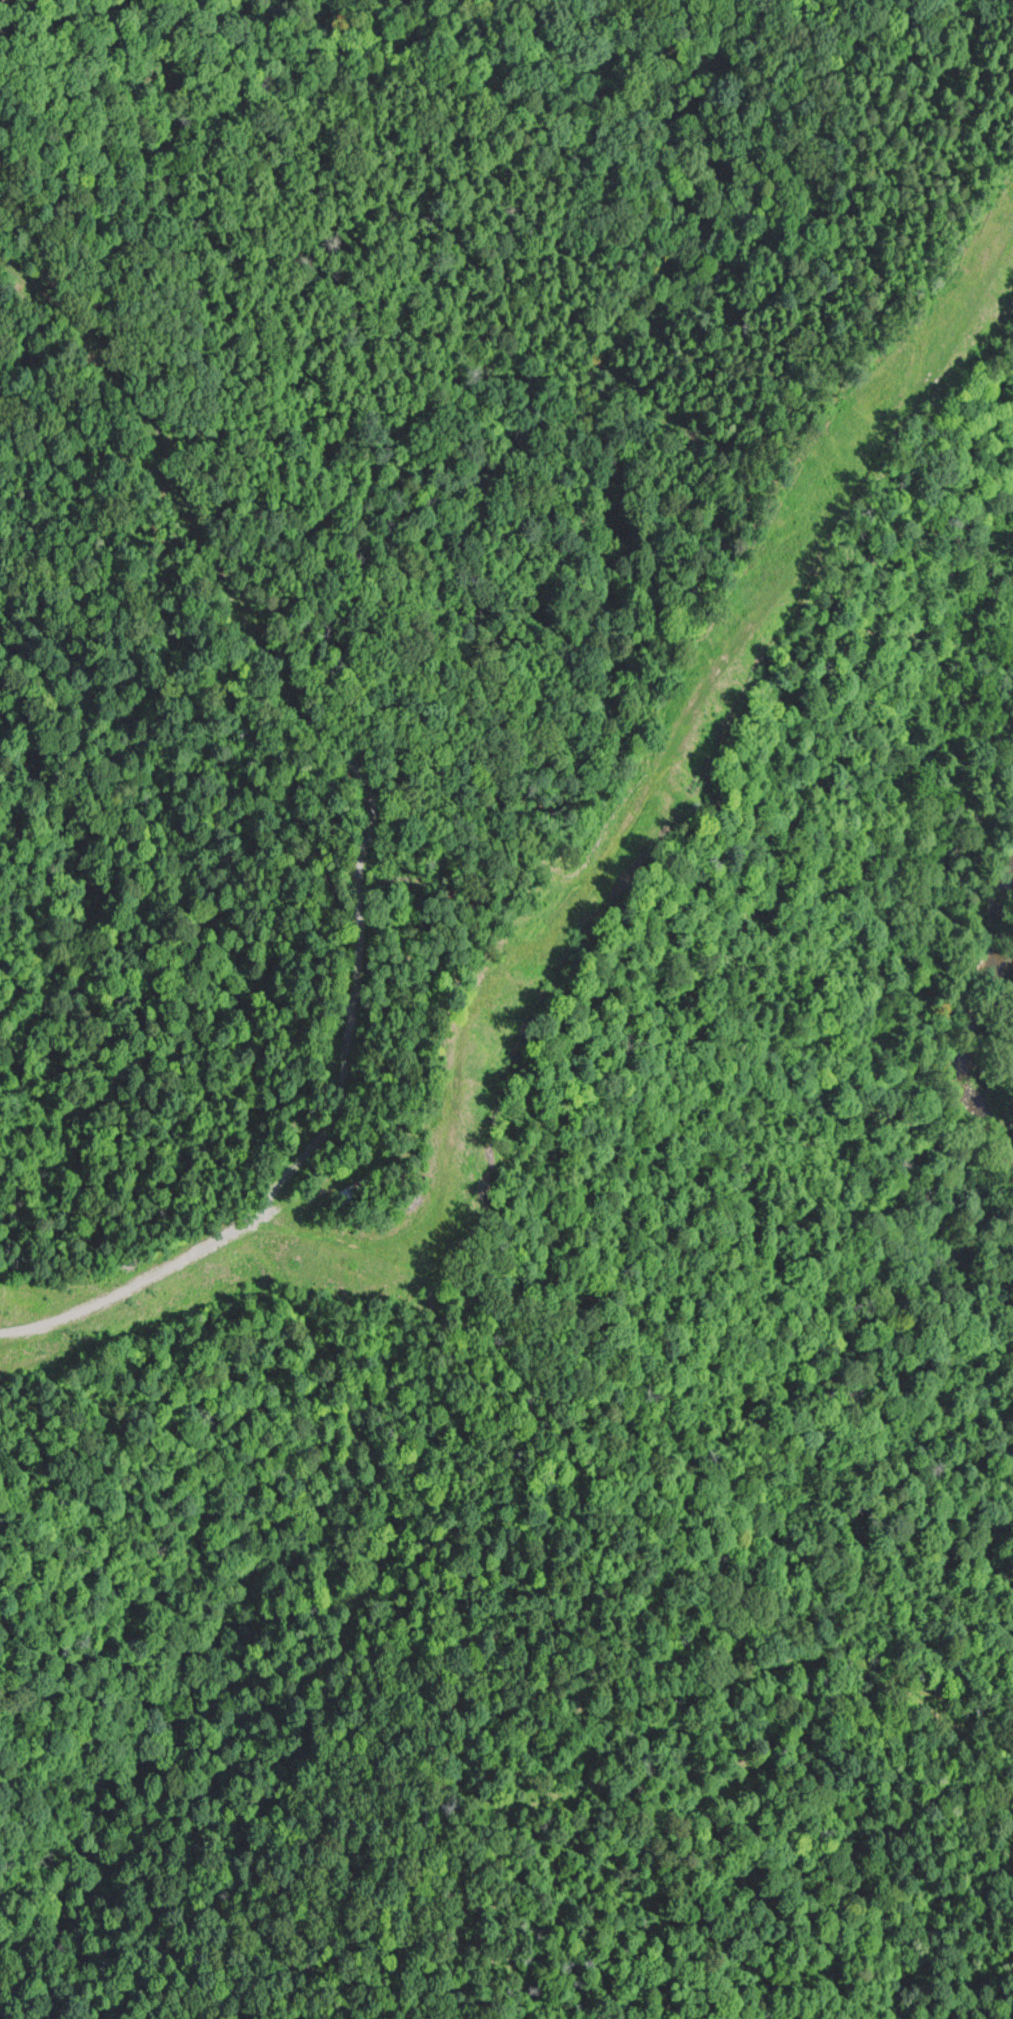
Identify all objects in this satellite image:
river: (975, 1019)

